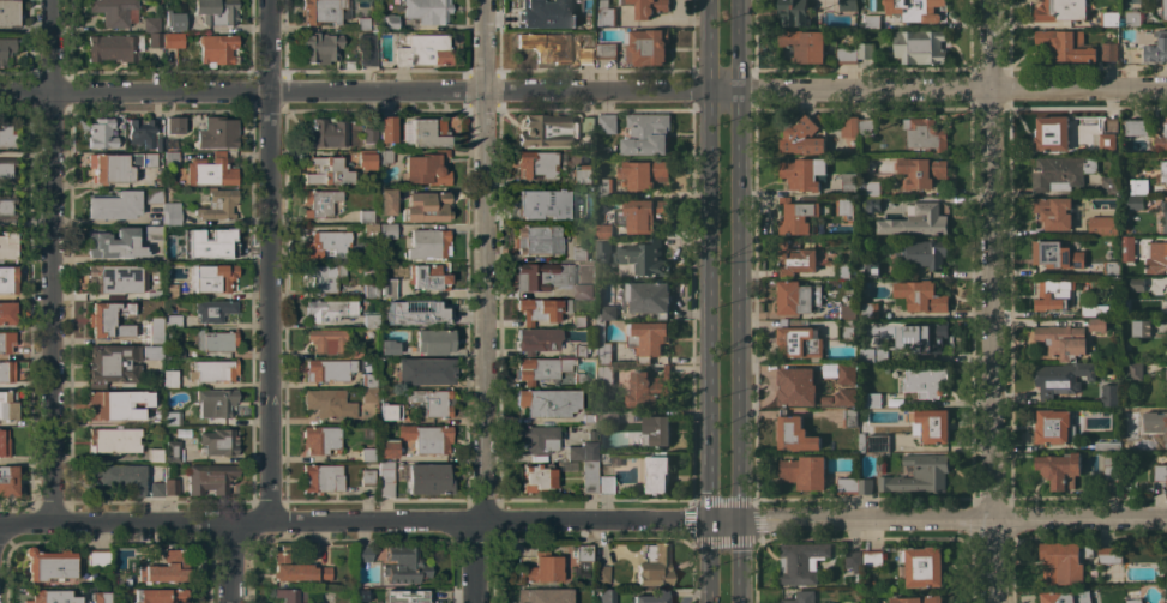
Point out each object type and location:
building: (844, 4)
building: (648, 7)
building: (914, 10)
building: (1060, 10)
building: (1165, 10)
building: (114, 11)
building: (321, 11)
building: (426, 11)
building: (213, 12)
building: (534, 12)
building: (794, 12)
building: (8, 13)
building: (604, 13)
building: (1109, 18)
building: (1132, 18)
building: (581, 22)
building: (174, 23)
building: (389, 23)
building: (361, 24)
building: (150, 25)
building: (154, 40)
building: (172, 40)
building: (830, 43)
building: (804, 44)
building: (1066, 44)
road: (52, 46)
road: (265, 46)
road: (485, 46)
building: (646, 46)
building: (916, 46)
road: (993, 46)
building: (114, 48)
building: (319, 48)
road: (712, 48)
road: (742, 48)
building: (1156, 48)
building: (7, 49)
building: (216, 49)
building: (366, 49)
building: (554, 49)
building: (865, 49)
building: (422, 50)
building: (606, 50)
building: (1109, 50)
building: (846, 55)
road: (583, 94)
building: (607, 123)
building: (173, 126)
building: (849, 126)
building: (865, 127)
building: (1137, 128)
building: (386, 129)
building: (552, 129)
building: (1160, 132)
building: (100, 133)
building: (140, 133)
building: (217, 133)
building: (423, 133)
building: (646, 133)
building: (925, 133)
building: (1057, 133)
building: (324, 134)
building: (368, 135)
building: (804, 135)
building: (6, 137)
building: (1112, 137)
building: (157, 143)
building: (383, 157)
building: (170, 158)
building: (363, 158)
building: (539, 164)
building: (116, 167)
building: (425, 169)
building: (6, 170)
building: (209, 171)
building: (325, 171)
building: (921, 171)
building: (1060, 171)
building: (1162, 171)
building: (643, 173)
building: (802, 173)
building: (582, 174)
building: (848, 182)
building: (1111, 185)
road: (97, 186)
building: (1138, 186)
building: (604, 187)
building: (871, 187)
building: (151, 197)
building: (385, 201)
building: (318, 203)
building: (873, 203)
building: (543, 204)
building: (113, 205)
building: (218, 205)
building: (426, 206)
building: (1130, 206)
building: (7, 207)
building: (844, 207)
building: (1054, 211)
building: (170, 213)
building: (640, 213)
building: (1166, 215)
building: (365, 217)
building: (798, 217)
building: (922, 219)
road: (26, 223)
building: (1102, 225)
building: (368, 230)
building: (386, 231)
building: (604, 231)
building: (151, 233)
building: (539, 240)
building: (212, 242)
building: (113, 245)
building: (325, 245)
building: (427, 245)
building: (7, 246)
building: (1127, 248)
building: (385, 249)
building: (603, 249)
building: (579, 253)
building: (924, 253)
building: (1057, 254)
building: (640, 258)
building: (795, 258)
building: (1156, 258)
building: (1111, 267)
building: (843, 270)
building: (868, 270)
building: (339, 273)
building: (542, 276)
building: (320, 277)
building: (426, 277)
building: (114, 278)
building: (211, 278)
building: (7, 281)
building: (832, 282)
building: (1131, 288)
building: (386, 289)
building: (1166, 289)
building: (369, 290)
building: (169, 291)
building: (582, 291)
building: (1053, 294)
building: (798, 296)
building: (919, 296)
building: (649, 297)
building: (1162, 303)
road: (52, 307)
road: (267, 307)
building: (1088, 308)
building: (541, 309)
building: (868, 309)
building: (213, 310)
building: (330, 310)
building: (847, 310)
building: (609, 312)
building: (6, 313)
building: (414, 313)
building: (109, 320)
building: (579, 320)
building: (172, 321)
building: (368, 321)
building: (1097, 324)
building: (846, 328)
building: (1142, 328)
building: (155, 330)
building: (646, 338)
building: (920, 338)
building: (536, 339)
building: (798, 339)
building: (326, 340)
building: (1063, 340)
building: (6, 342)
building: (215, 342)
building: (432, 342)
building: (603, 344)
building: (1126, 345)
road: (482, 348)
road: (992, 348)
building: (386, 349)
building: (581, 349)
road: (711, 349)
road: (741, 349)
building: (1166, 350)
building: (174, 351)
building: (151, 352)
building: (353, 354)
building: (872, 354)
building: (112, 364)
building: (329, 369)
building: (540, 369)
building: (828, 369)
building: (213, 370)
building: (6, 372)
building: (423, 372)
building: (1135, 372)
building: (846, 373)
building: (604, 374)
building: (1166, 374)
building: (1061, 378)
building: (169, 379)
building: (579, 379)
building: (367, 380)
building: (925, 381)
building: (796, 386)
building: (648, 388)
building: (368, 394)
building: (1111, 394)
building: (844, 397)
building: (824, 399)
building: (873, 399)
building: (429, 402)
building: (548, 402)
building: (894, 402)
building: (215, 403)
building: (115, 404)
building: (327, 404)
building: (7, 405)
building: (387, 411)
building: (608, 416)
building: (850, 416)
building: (172, 418)
building: (589, 418)
building: (930, 424)
building: (1054, 426)
building: (1166, 427)
building: (655, 429)
building: (795, 434)
building: (426, 438)
building: (320, 439)
building: (537, 439)
building: (113, 440)
building: (861, 441)
building: (217, 442)
building: (877, 442)
building: (2, 444)
building: (1109, 444)
building: (386, 450)
building: (172, 452)
building: (156, 453)
building: (366, 454)
building: (585, 464)
building: (1059, 469)
building: (155, 470)
building: (804, 471)
building: (1161, 471)
building: (918, 472)
building: (657, 474)
building: (1111, 474)
building: (366, 477)
building: (536, 477)
building: (115, 478)
building: (209, 478)
building: (321, 478)
building: (427, 478)
building: (385, 480)
building: (7, 481)
building: (168, 483)
building: (603, 484)
building: (847, 484)
building: (864, 486)
building: (155, 489)
traffic signals: (741, 520)
road: (583, 521)
traffic signals: (711, 521)
building: (582, 553)
building: (362, 554)
building: (1111, 555)
building: (97, 557)
building: (873, 557)
building: (854, 560)
building: (801, 561)
building: (1064, 561)
road: (230, 562)
building: (48, 565)
building: (922, 565)
building: (404, 566)
building: (541, 567)
building: (652, 567)
building: (167, 568)
building: (296, 569)
building: (598, 577)
building: (366, 593)
building: (290, 595)
building: (160, 596)
building: (539, 596)
building: (606, 596)
building: (1065, 596)
building: (50, 597)
building: (100, 597)
building: (651, 597)
building: (801, 597)
building: (408, 598)
building: (916, 599)
building: (1133, 599)
building: (829, 602)

